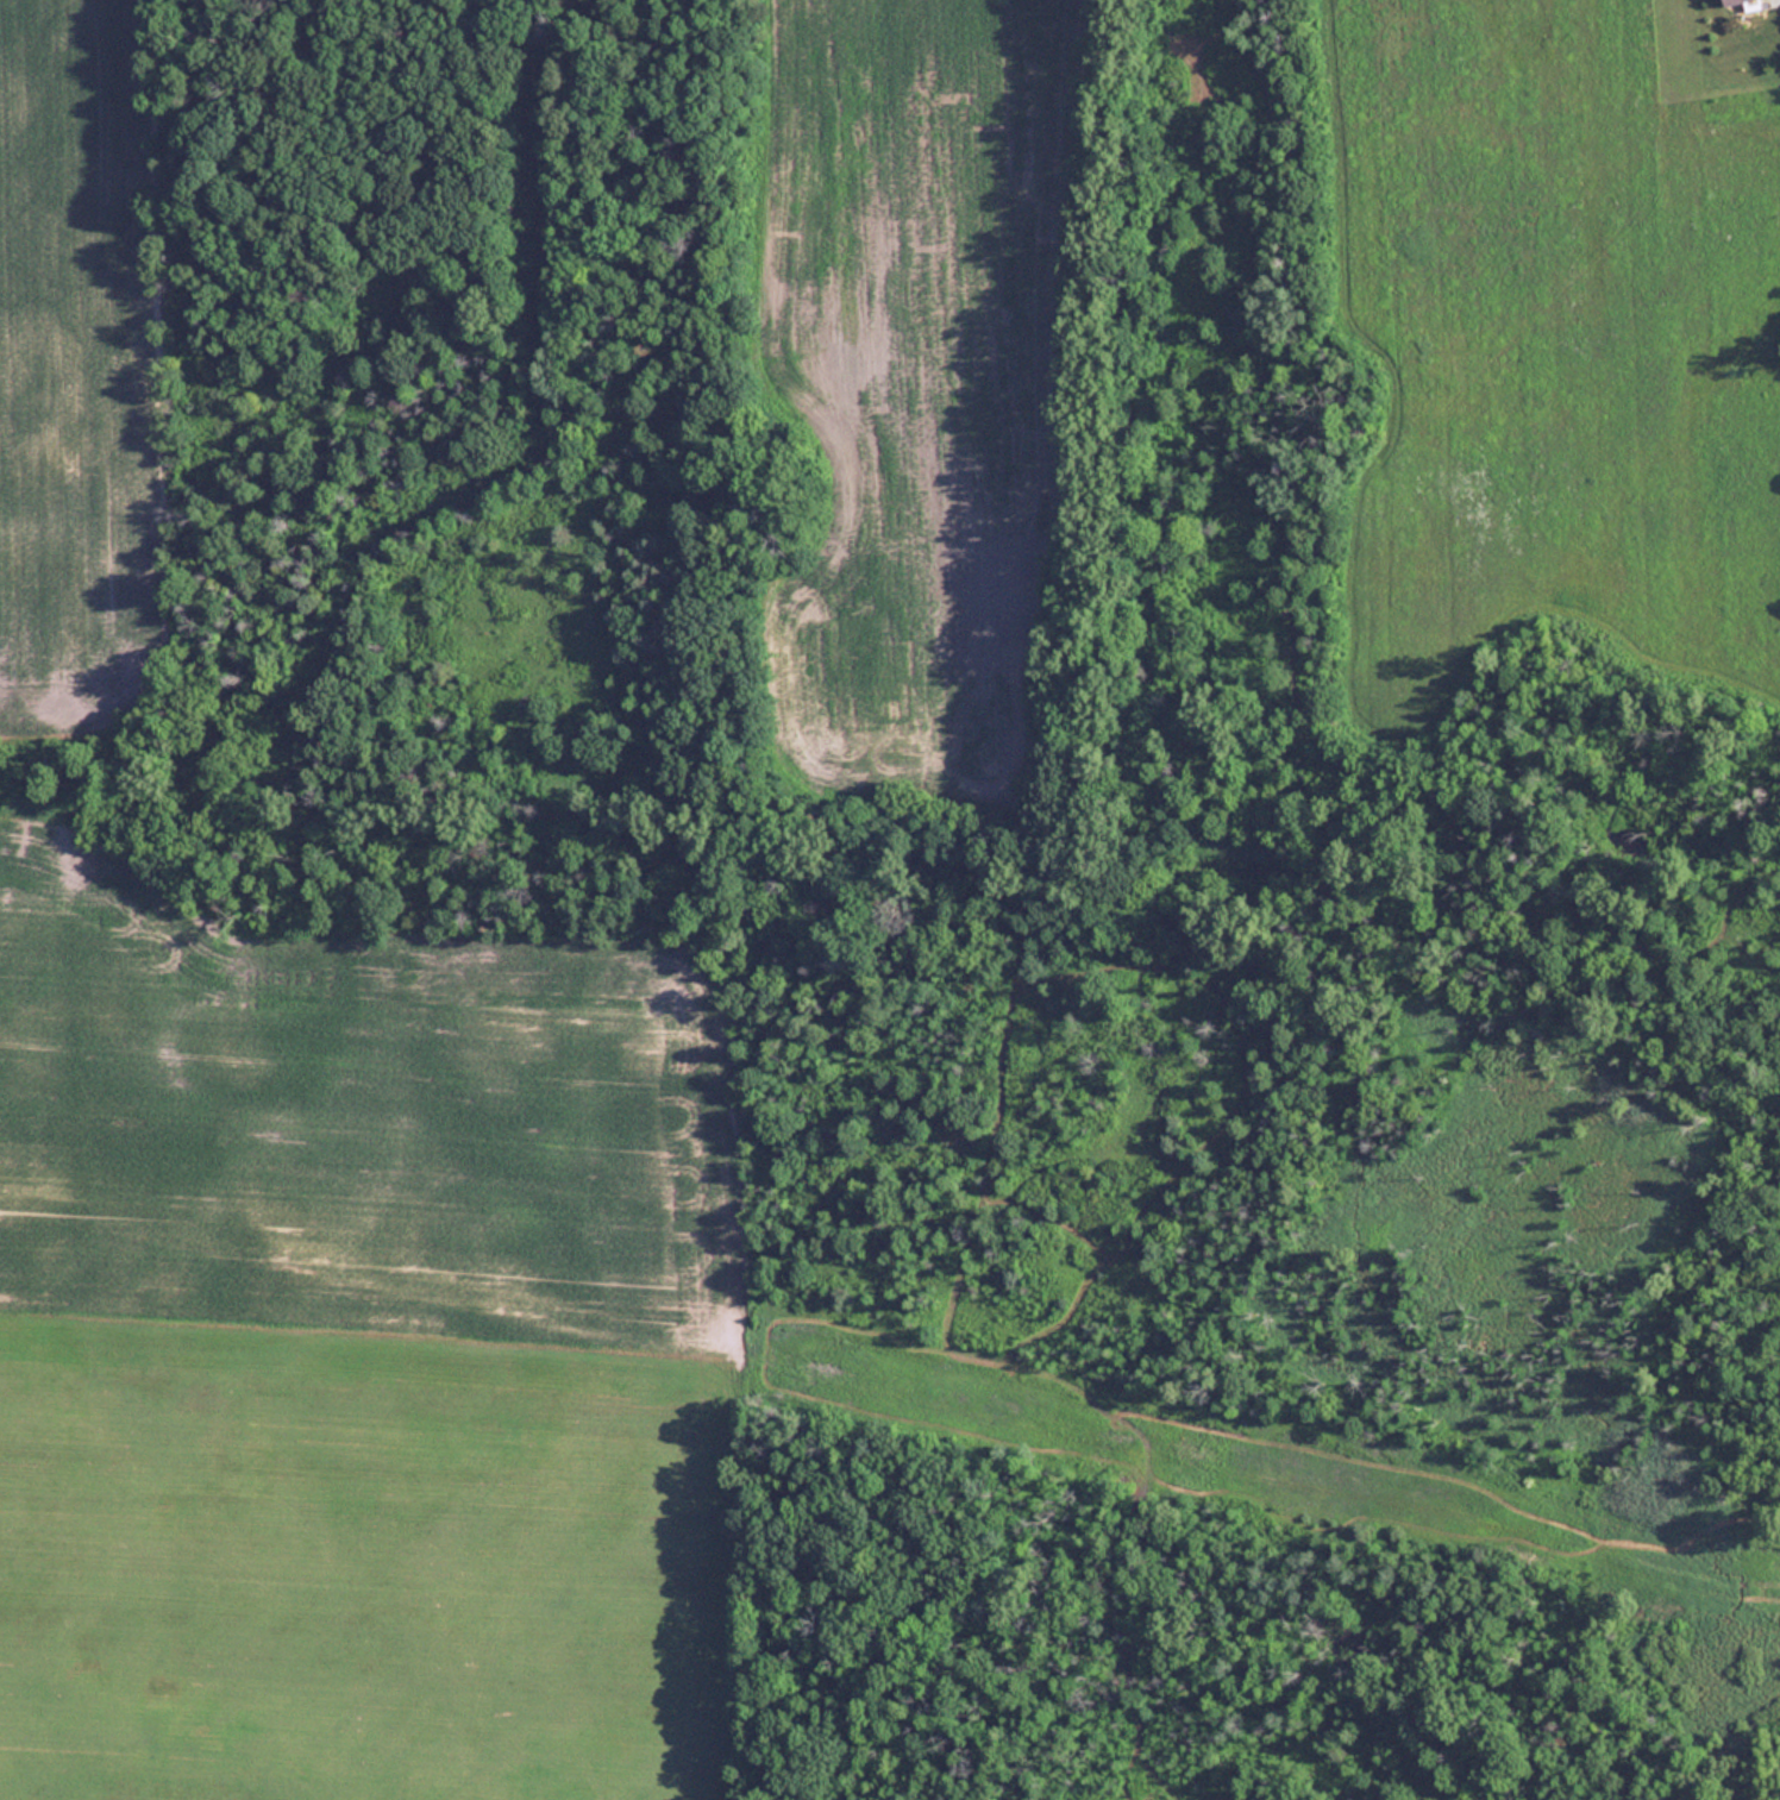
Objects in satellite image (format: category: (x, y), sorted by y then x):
building: (1731, 1)

